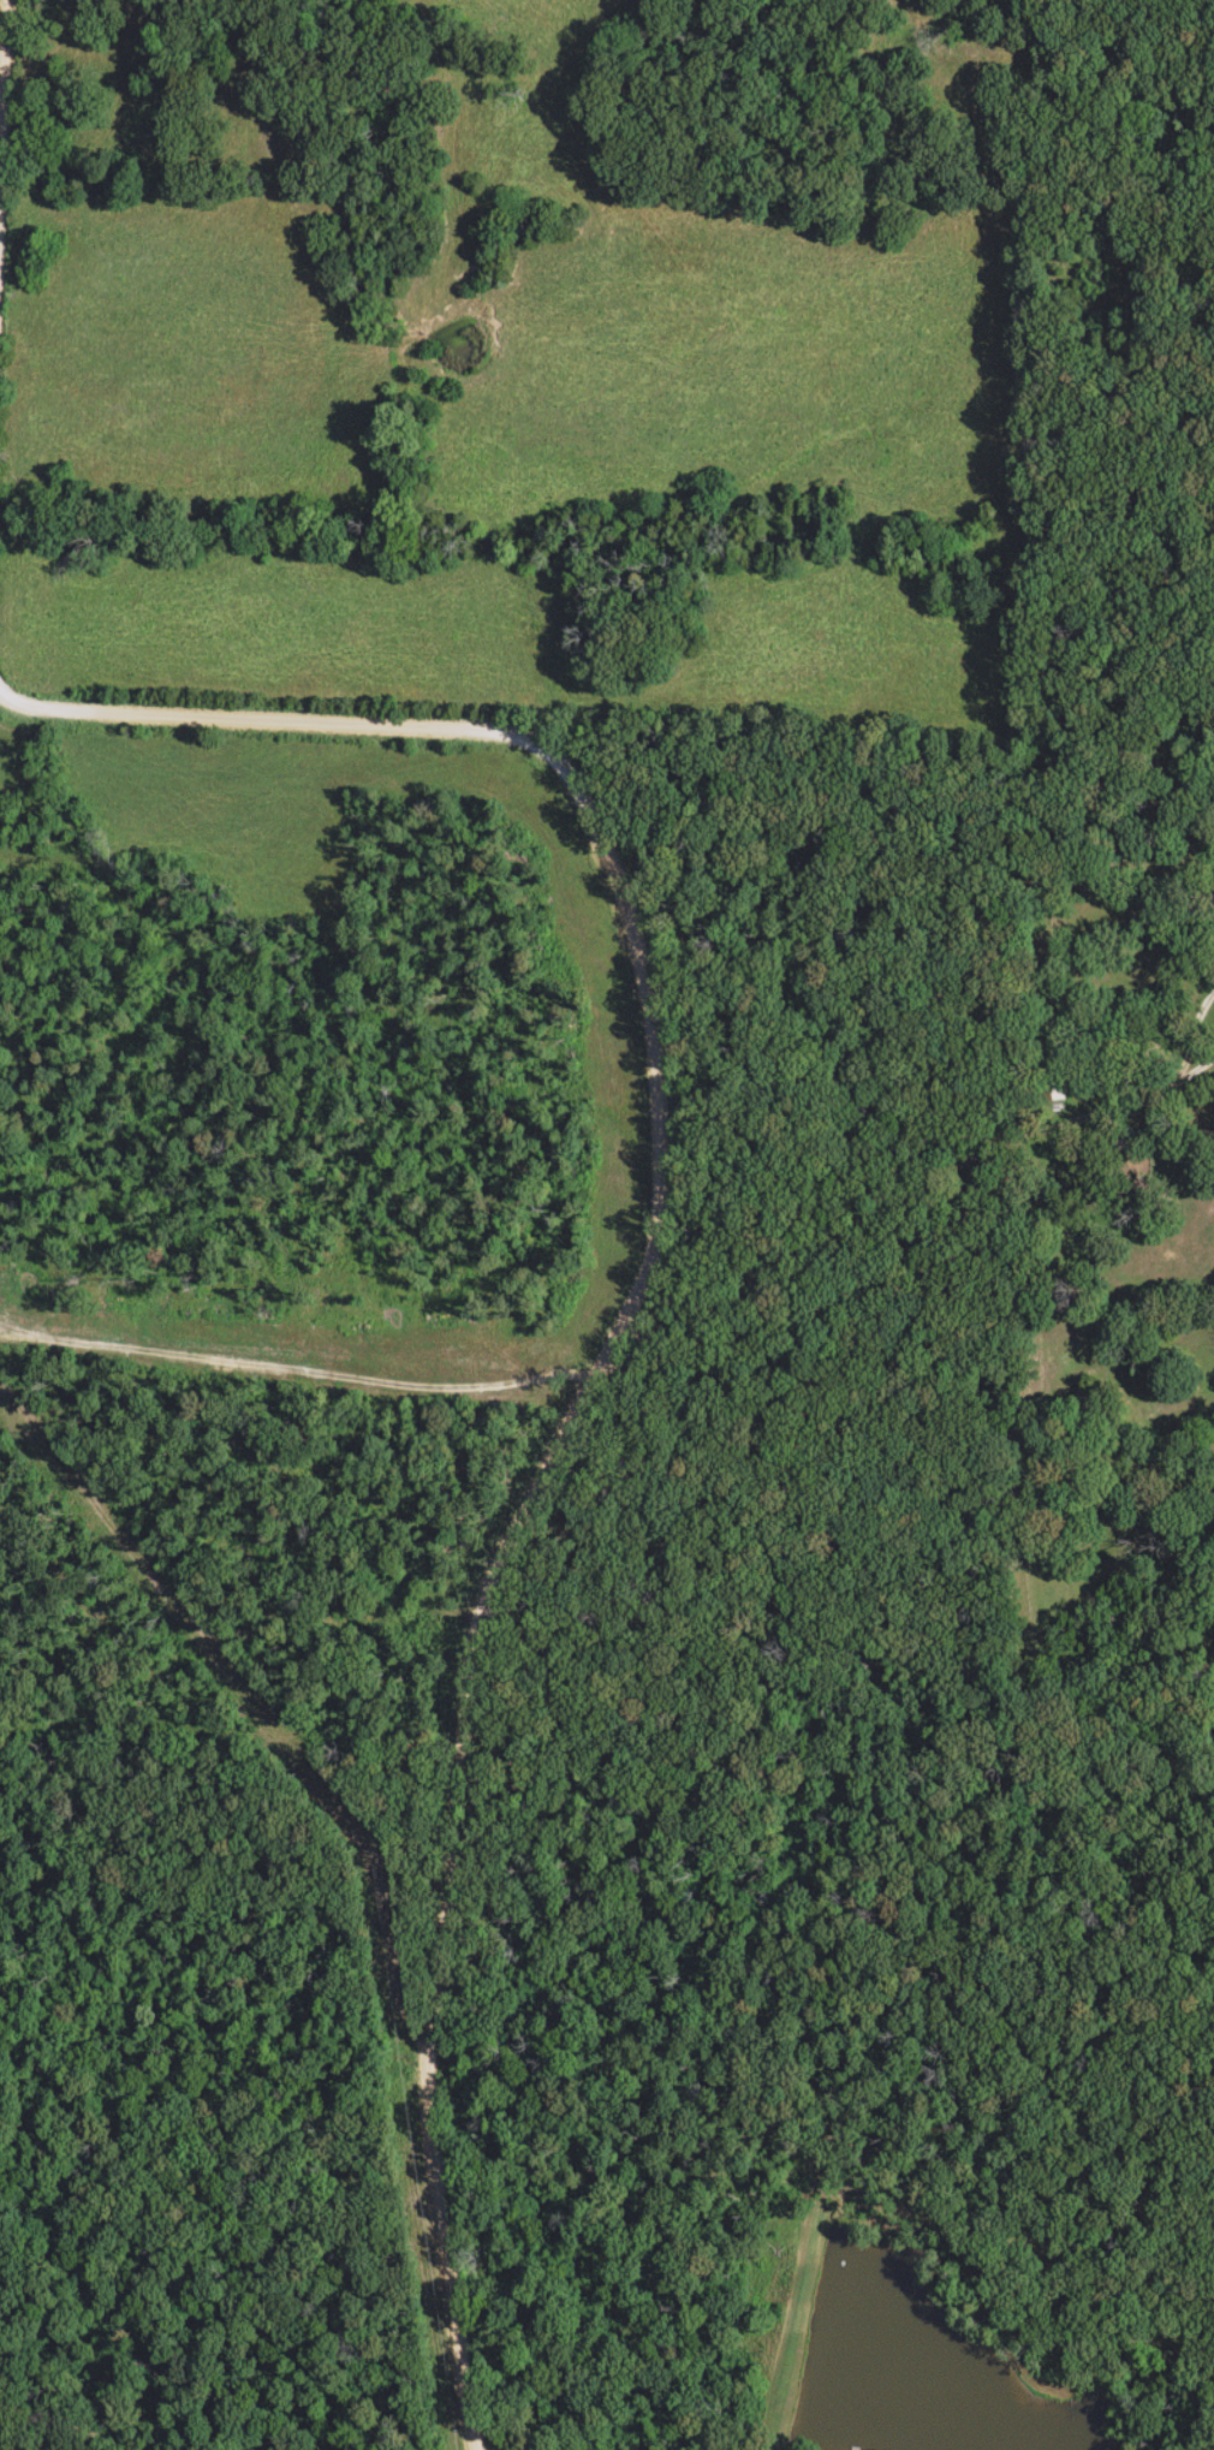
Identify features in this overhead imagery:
road: (2, 228)
road: (1190, 1034)
road: (1195, 1069)
road: (877, 1214)
road: (620, 1315)
road: (641, 1331)

